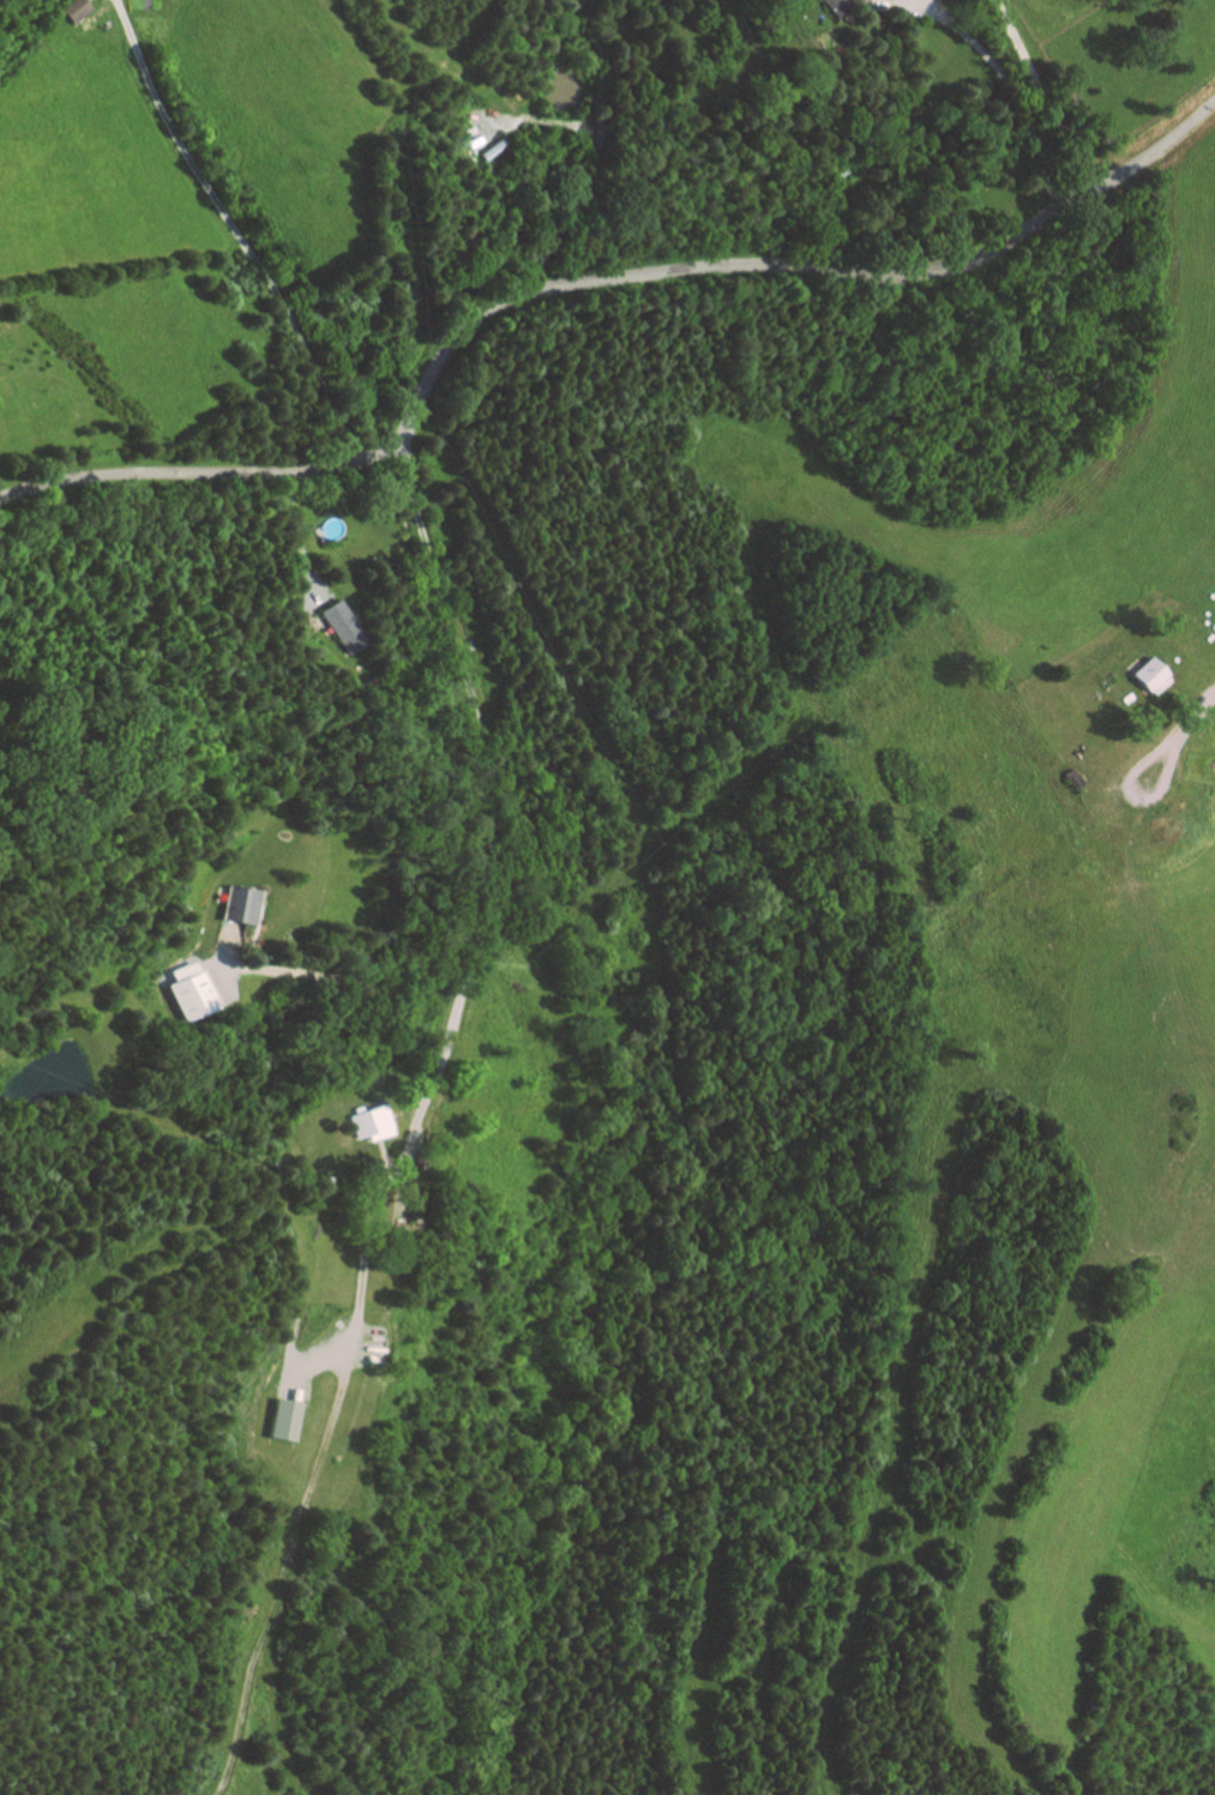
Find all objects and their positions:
road: (898, 2)
building: (840, 5)
building: (76, 11)
road: (1015, 90)
road: (1048, 92)
road: (609, 155)
building: (838, 170)
road: (846, 205)
road: (236, 230)
road: (590, 278)
road: (297, 535)
building: (342, 626)
building: (1145, 674)
road: (471, 682)
road: (1197, 709)
building: (1073, 778)
road: (1129, 799)
building: (239, 904)
road: (252, 933)
building: (505, 946)
road: (225, 956)
road: (356, 976)
building: (194, 990)
building: (368, 1121)
road: (389, 1175)
building: (325, 1181)
building: (419, 1199)
building: (285, 1417)
road: (282, 1571)

